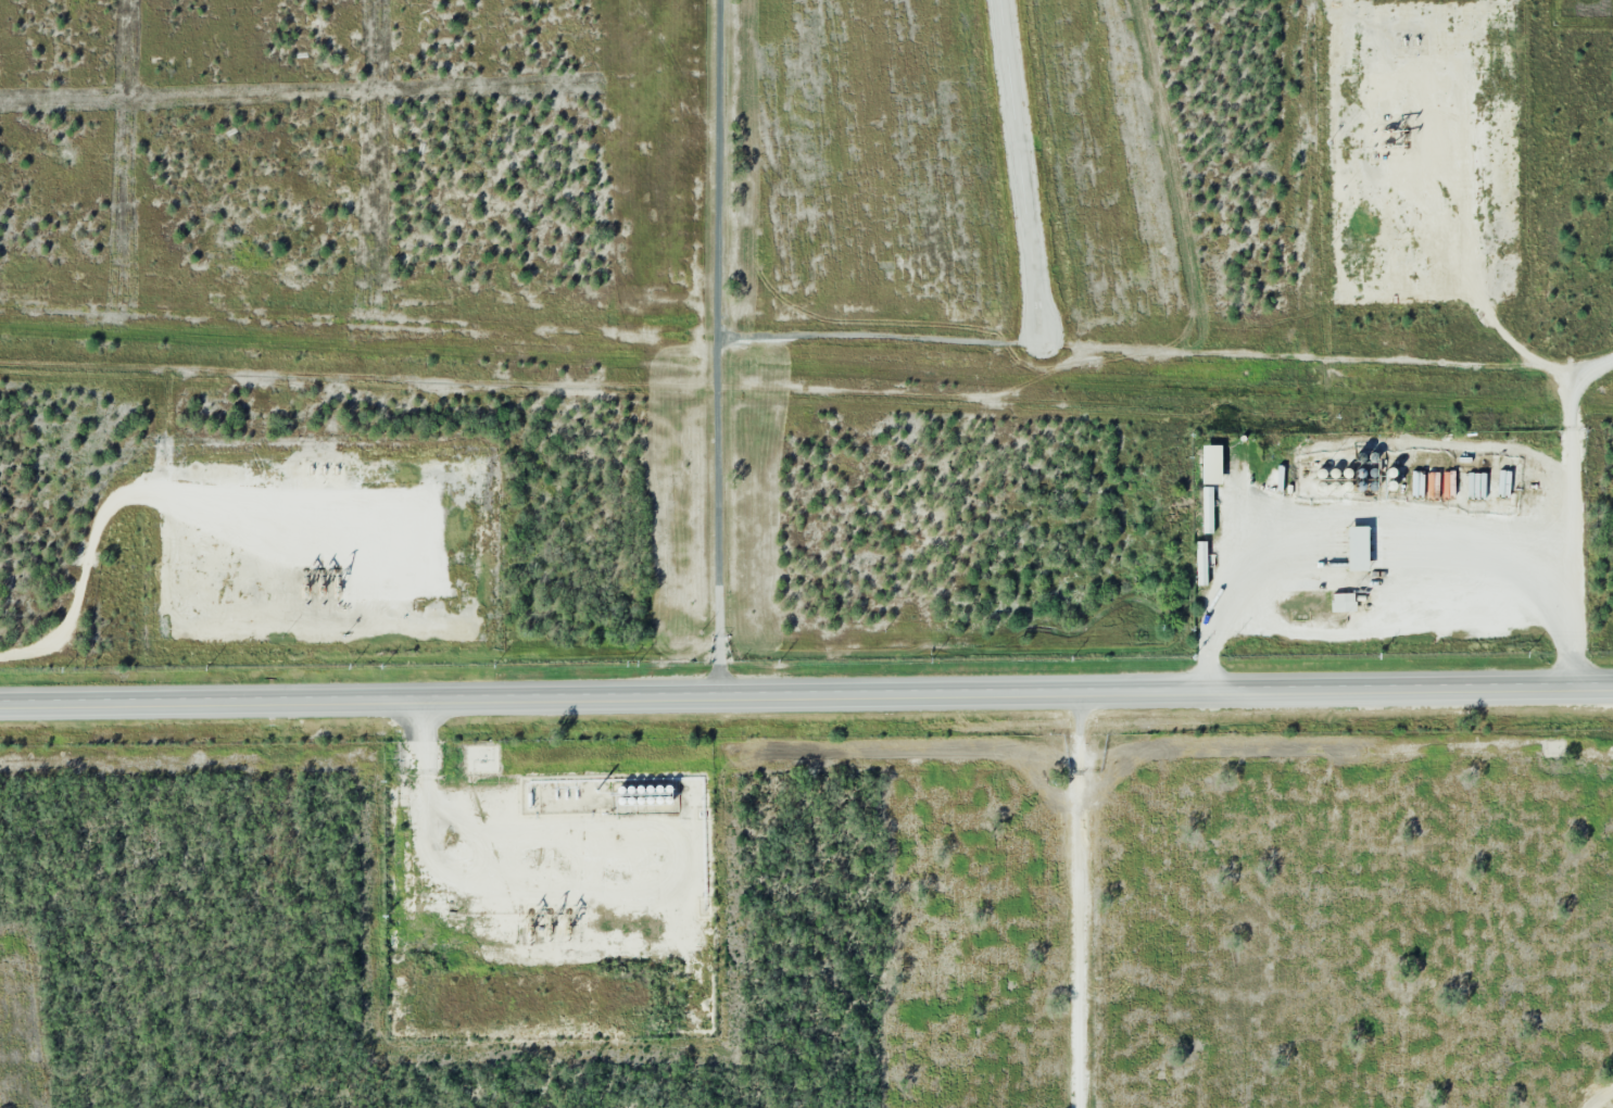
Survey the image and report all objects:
airport runway: (1022, 168)
road: (717, 349)
building: (1212, 463)
building: (1207, 508)
road: (1578, 518)
building: (1360, 547)
building: (1201, 563)
petroleum well: (325, 581)
building: (1343, 601)
road: (806, 700)
petroleum well: (452, 902)
road: (1081, 904)

